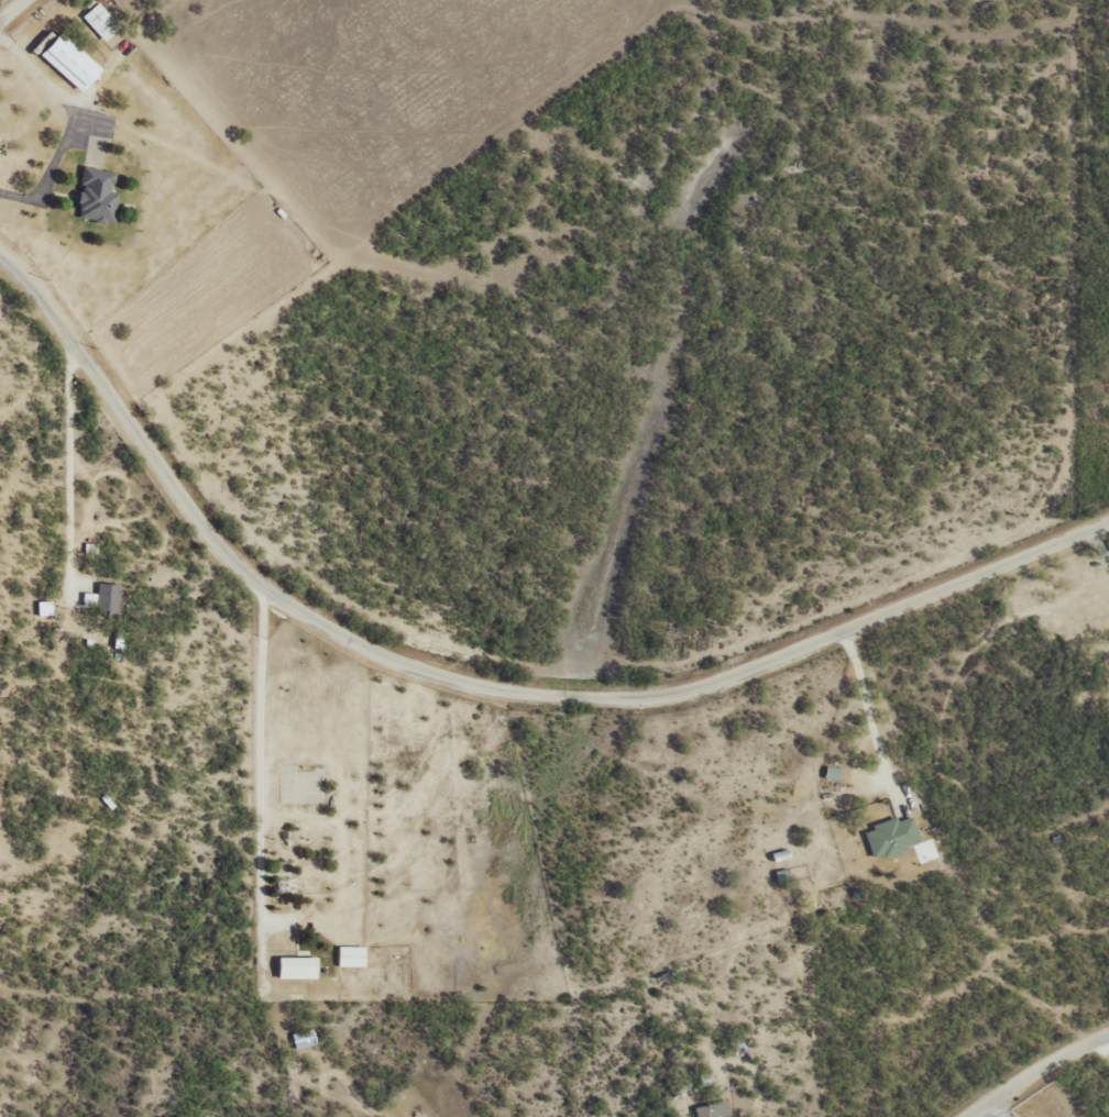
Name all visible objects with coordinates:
building: (97, 20)
building: (65, 60)
road: (90, 107)
building: (94, 195)
building: (87, 597)
building: (106, 597)
road: (499, 677)
building: (828, 772)
building: (888, 836)
building: (348, 955)
building: (293, 966)
building: (300, 1038)
road: (1032, 1069)
building: (710, 1109)

